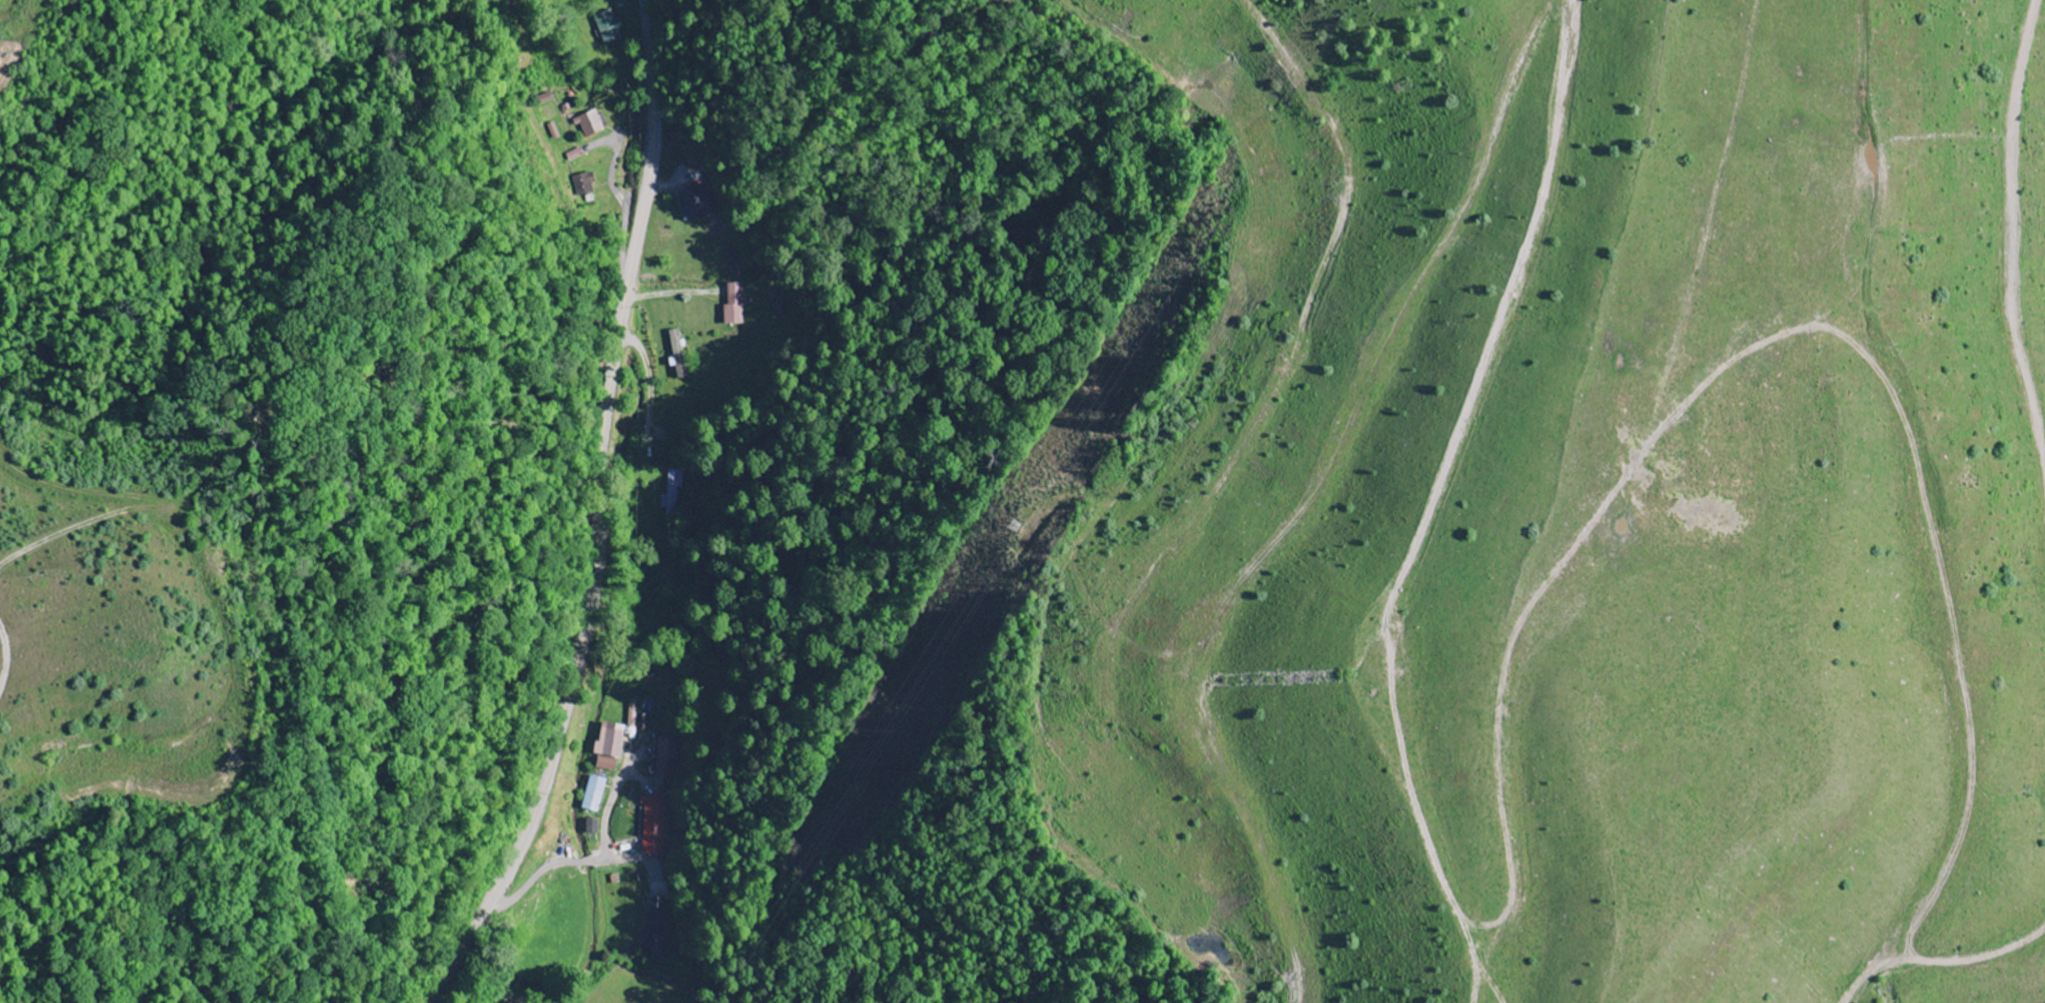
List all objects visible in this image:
road: (497, 8)
building: (609, 28)
building: (590, 125)
building: (554, 131)
building: (575, 155)
building: (584, 184)
building: (696, 205)
building: (735, 306)
building: (677, 355)
building: (672, 492)
road: (597, 516)
building: (610, 740)
building: (667, 759)
building: (606, 764)
building: (594, 794)
building: (653, 825)
building: (592, 826)
road: (575, 862)
building: (656, 928)

